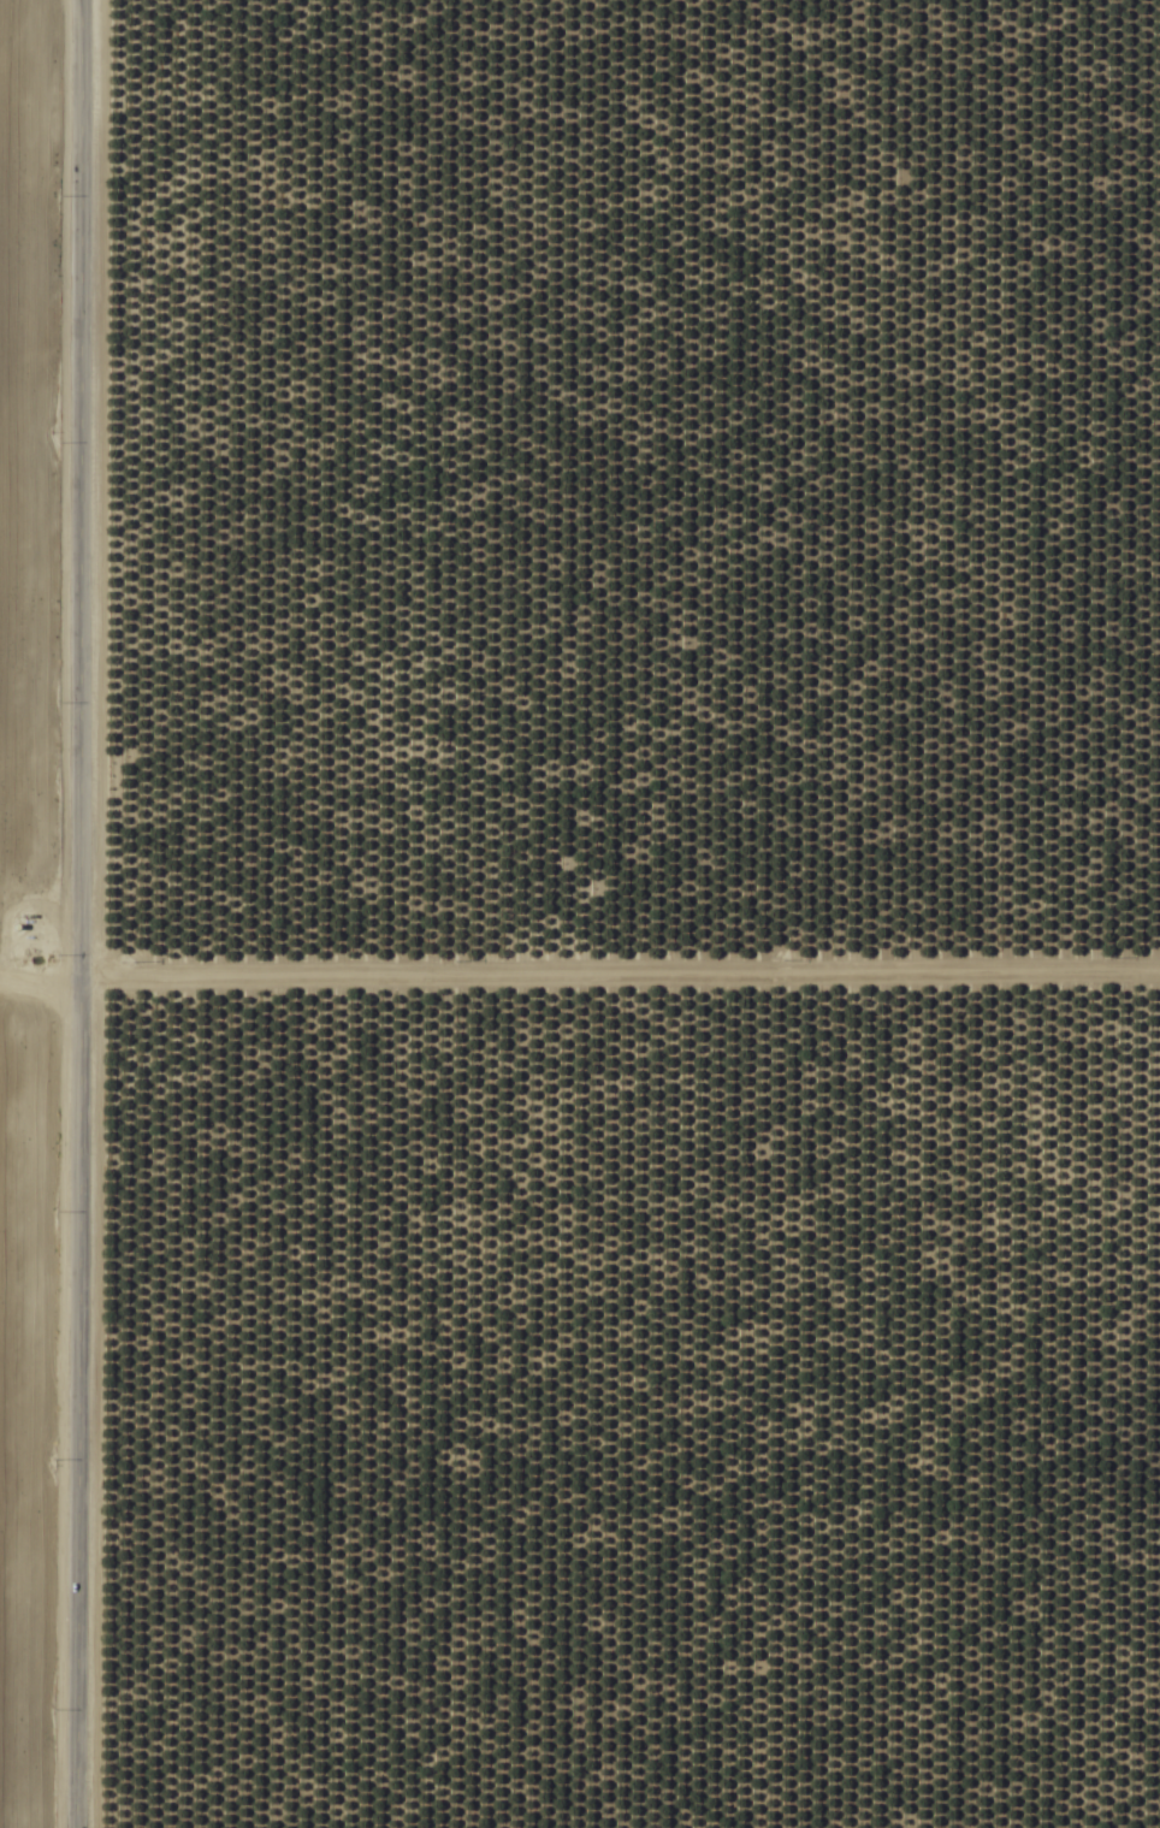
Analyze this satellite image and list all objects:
road: (78, 913)
road: (579, 964)

